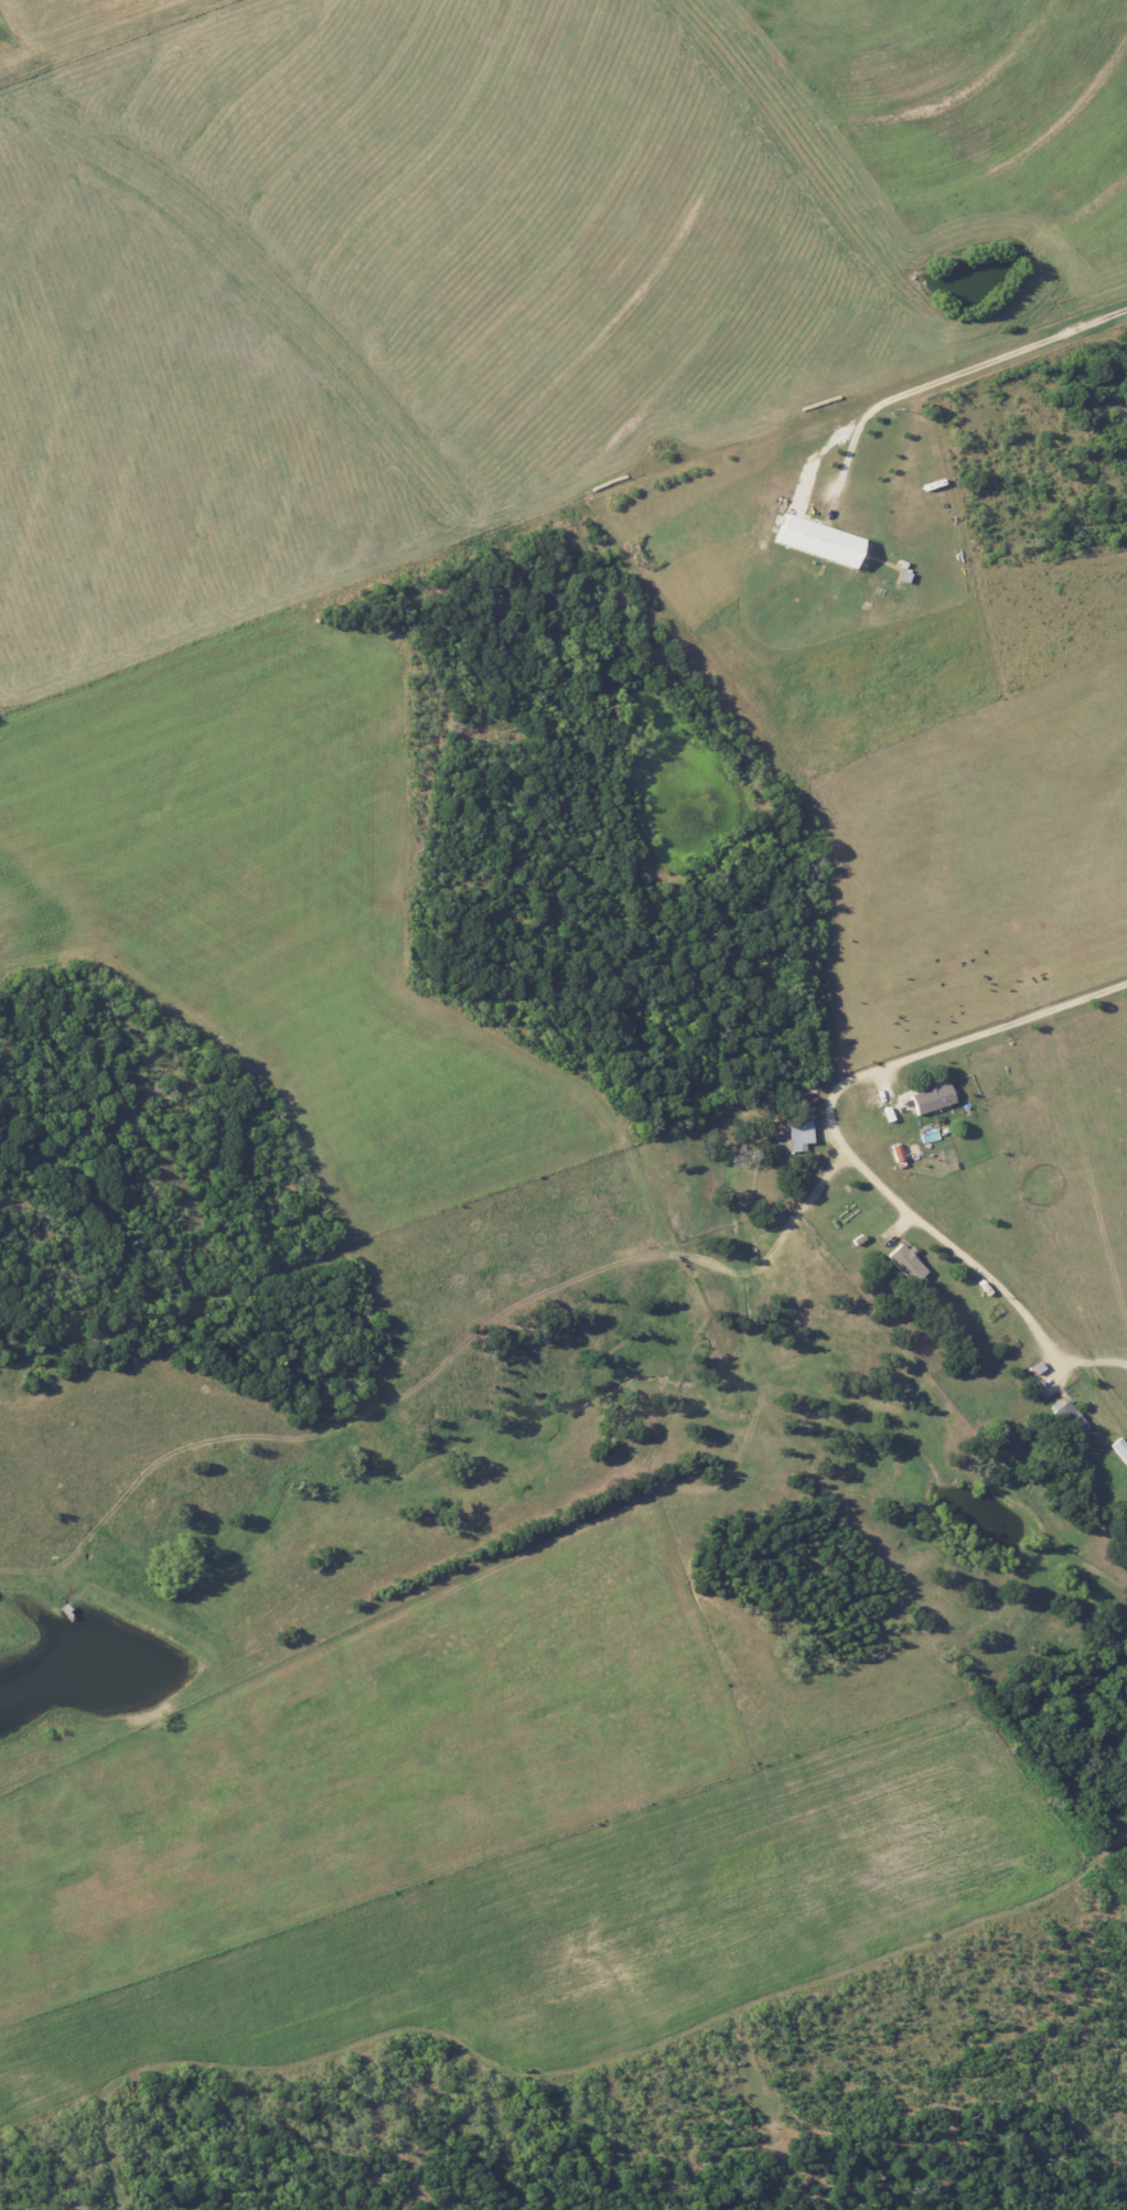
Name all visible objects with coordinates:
road: (955, 386)
building: (817, 540)
building: (932, 1097)
road: (830, 1123)
building: (797, 1135)
building: (906, 1260)
building: (1120, 1449)

